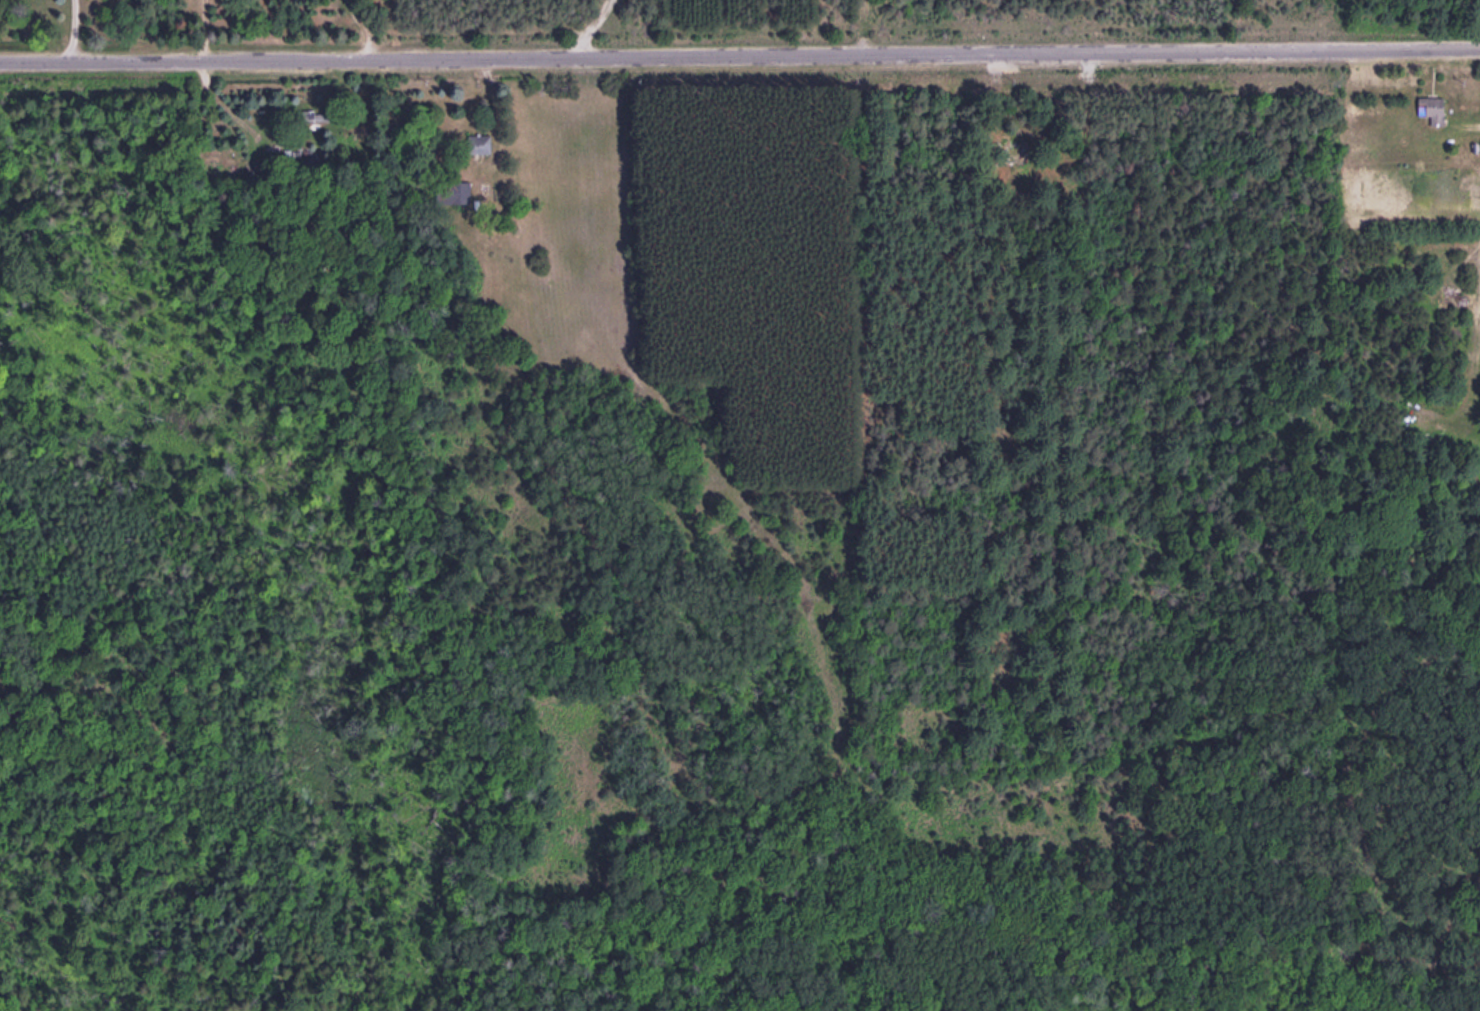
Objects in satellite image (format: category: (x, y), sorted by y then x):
road: (740, 41)
building: (1432, 109)
building: (456, 192)

